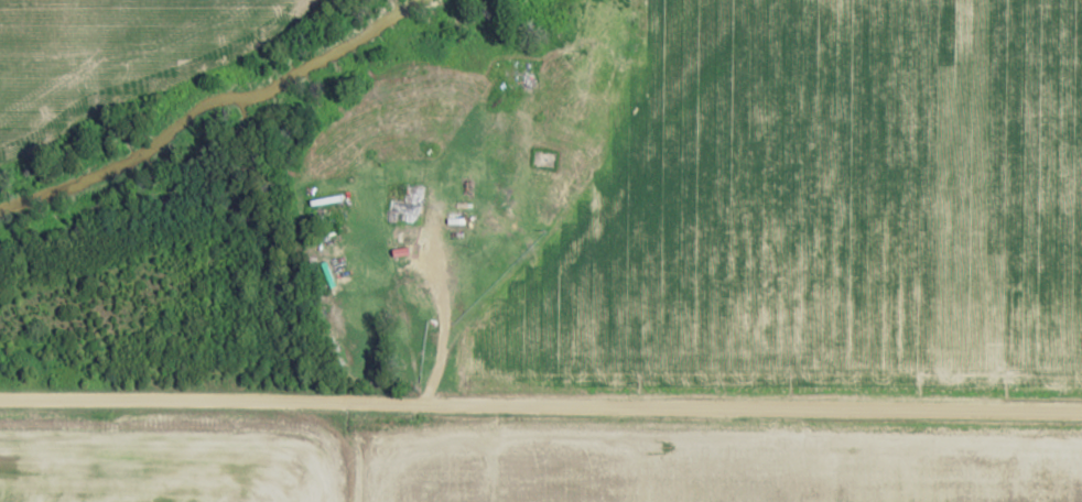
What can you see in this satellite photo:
road: (583, 203)
building: (409, 207)
road: (540, 406)
road: (326, 449)

